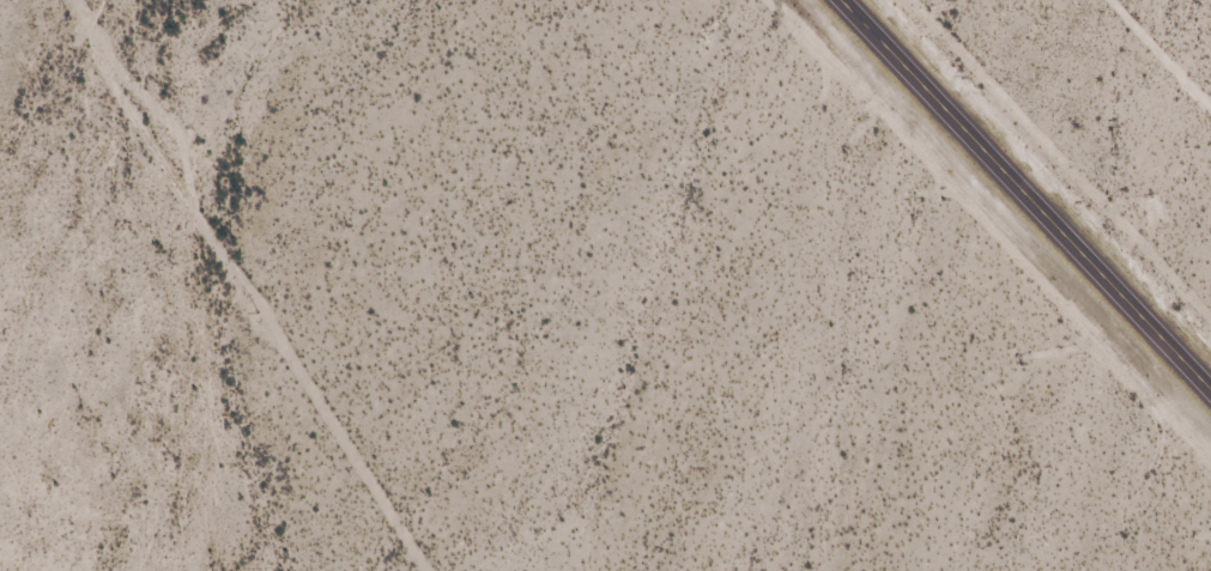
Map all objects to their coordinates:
road: (1033, 188)

